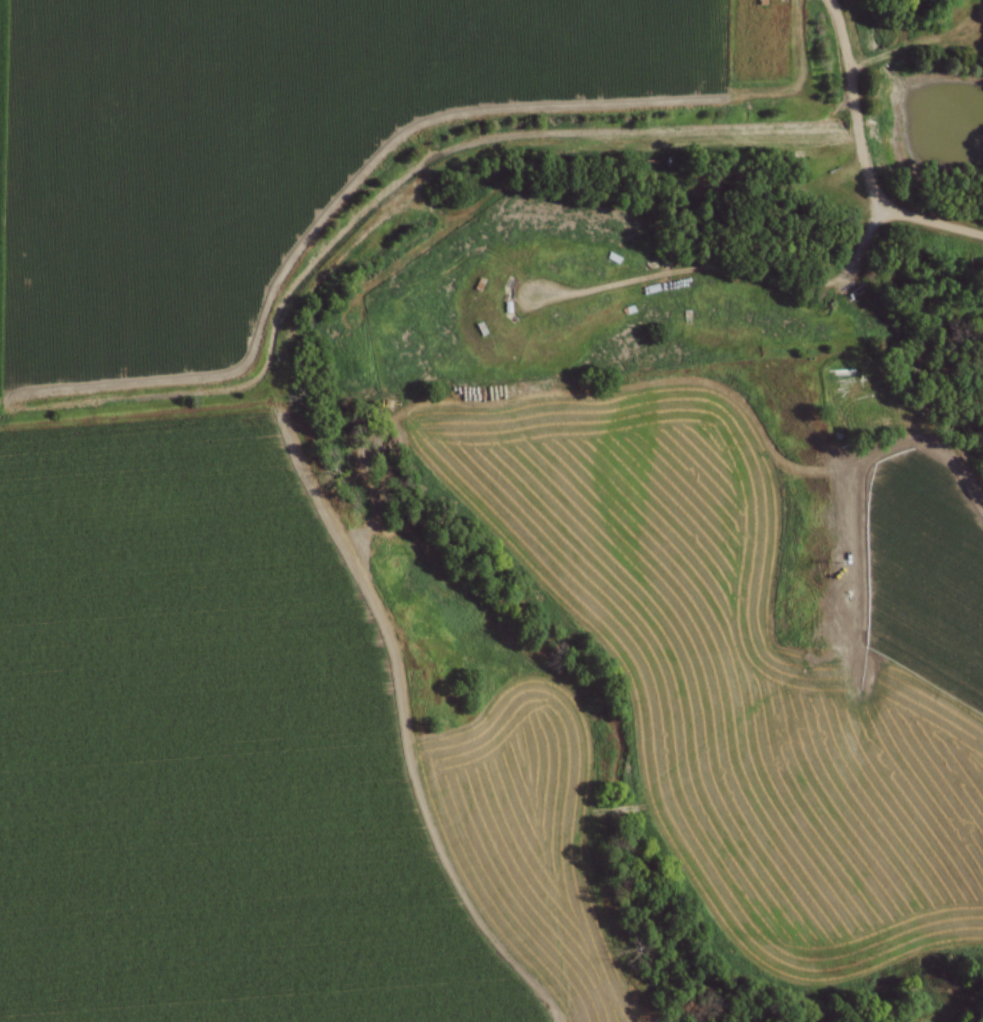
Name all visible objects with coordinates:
road: (391, 133)
crop: (248, 143)
road: (860, 155)
road: (724, 270)
building: (698, 317)
road: (861, 465)
crop: (763, 659)
crop: (254, 760)
crop: (929, 1018)

